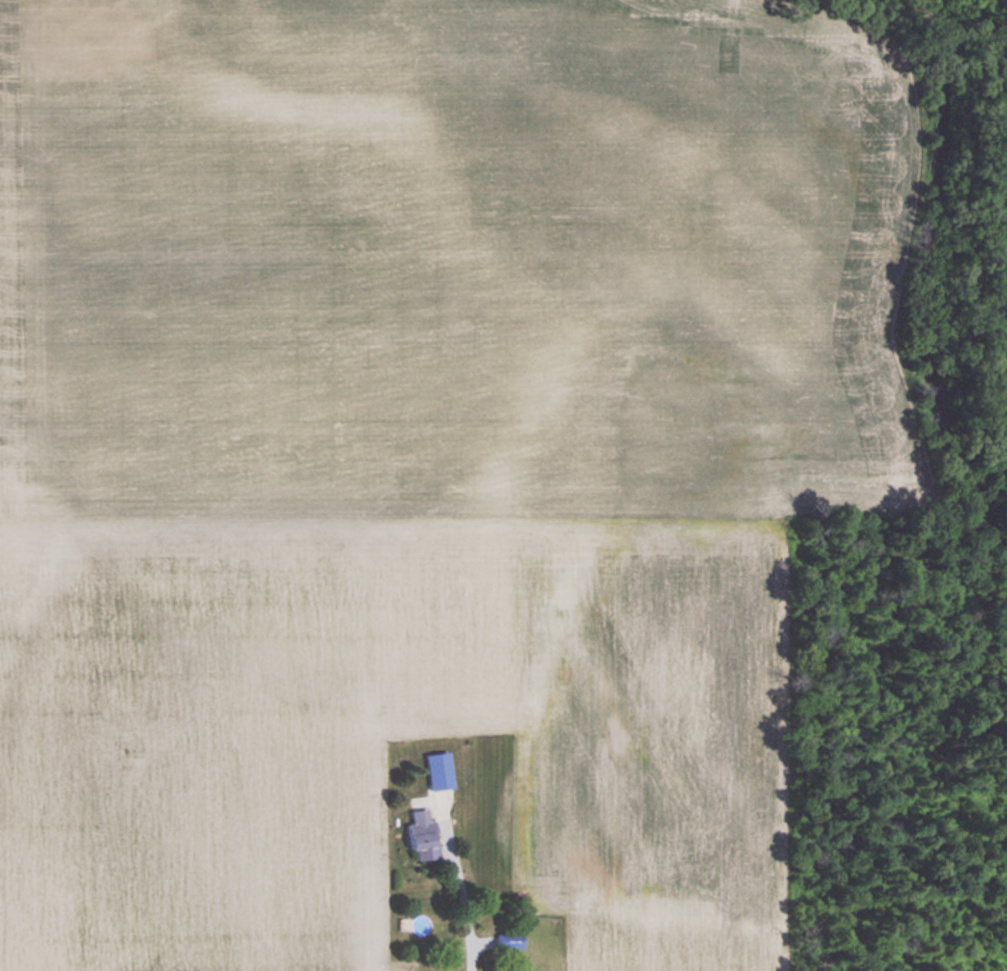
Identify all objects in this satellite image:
building: (438, 770)
building: (422, 835)
road: (466, 908)
building: (508, 941)

